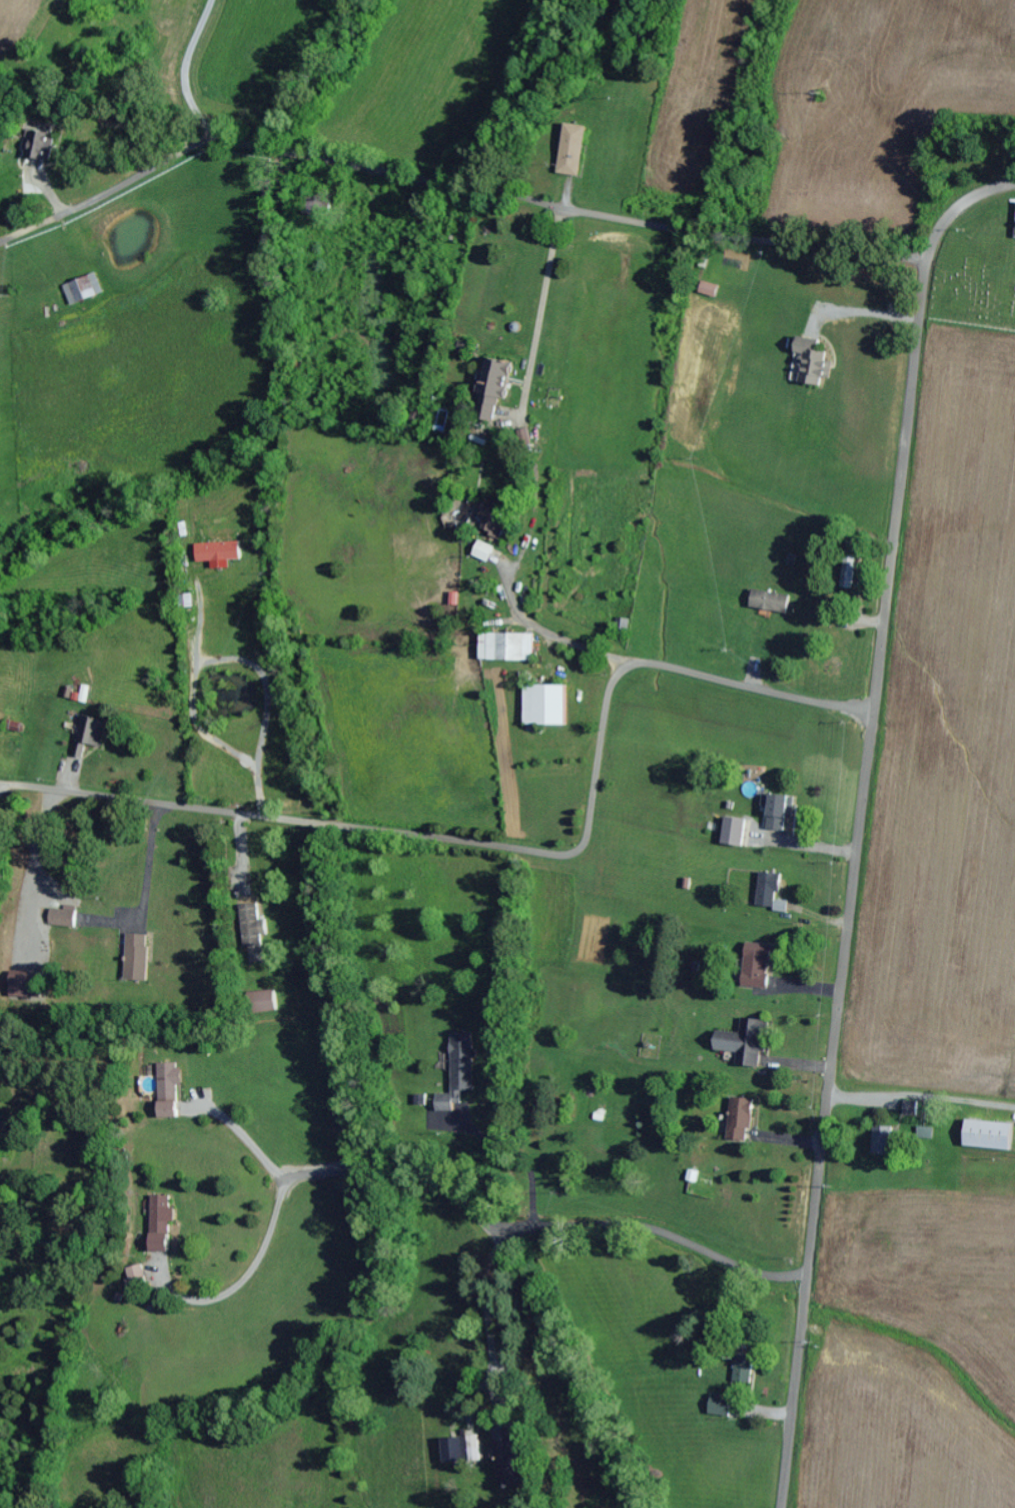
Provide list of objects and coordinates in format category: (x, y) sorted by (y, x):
building: (44, 147)
building: (573, 151)
building: (315, 208)
road: (573, 212)
park: (971, 290)
building: (83, 291)
building: (708, 291)
building: (810, 365)
road: (506, 390)
building: (494, 393)
building: (495, 518)
building: (484, 553)
building: (847, 571)
building: (770, 603)
building: (507, 649)
building: (546, 707)
building: (91, 735)
building: (779, 813)
road: (860, 822)
road: (509, 848)
building: (770, 893)
building: (64, 919)
building: (253, 927)
building: (138, 959)
building: (757, 967)
building: (263, 1003)
building: (755, 1044)
building: (460, 1069)
building: (170, 1091)
building: (740, 1120)
building: (989, 1136)
building: (163, 1223)
road: (659, 1234)
building: (137, 1278)
building: (744, 1371)
building: (721, 1406)
building: (455, 1449)
building: (508, 1458)

